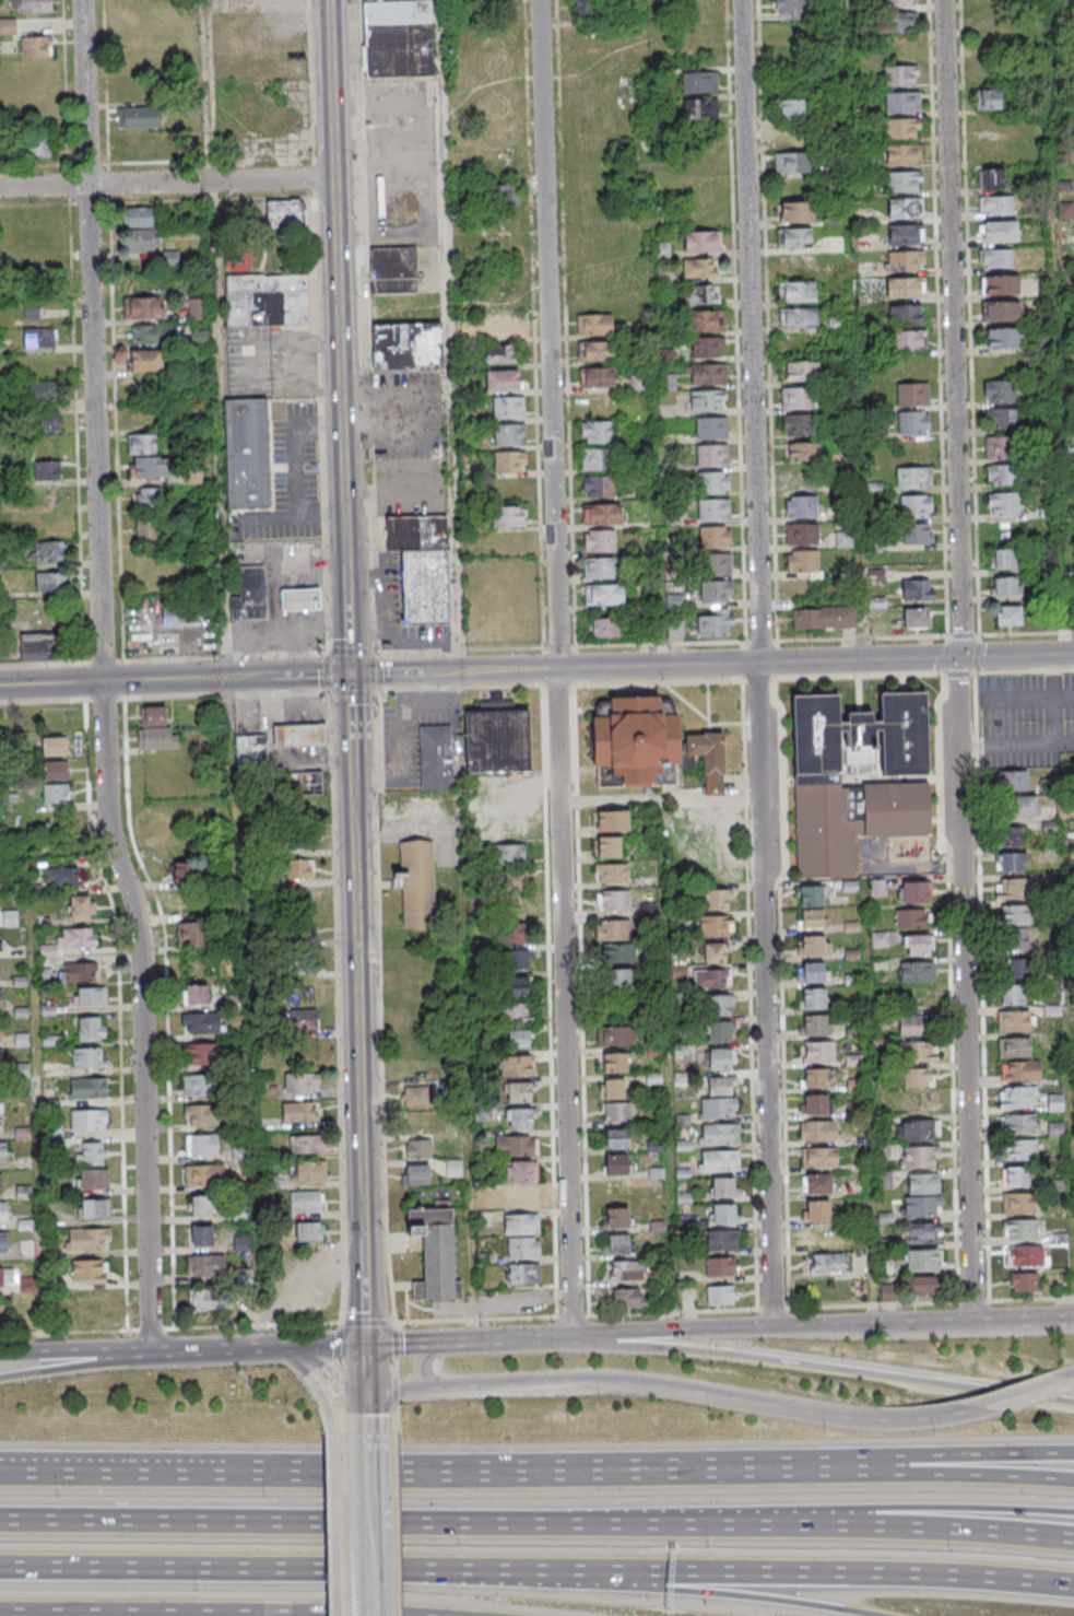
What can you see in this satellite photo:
building: (898, 3)
building: (32, 5)
building: (790, 8)
building: (898, 24)
building: (400, 39)
building: (35, 46)
building: (899, 77)
building: (699, 81)
building: (988, 98)
building: (900, 103)
building: (700, 108)
building: (791, 109)
building: (138, 117)
building: (901, 129)
building: (140, 143)
building: (38, 147)
building: (902, 155)
building: (792, 162)
building: (990, 178)
building: (902, 181)
road: (166, 183)
building: (501, 196)
building: (996, 206)
building: (904, 208)
building: (796, 211)
building: (286, 216)
building: (139, 230)
building: (999, 232)
building: (905, 234)
building: (793, 237)
building: (703, 241)
building: (998, 258)
building: (904, 260)
building: (796, 264)
building: (699, 268)
building: (393, 270)
building: (1000, 284)
building: (905, 286)
building: (798, 291)
building: (700, 294)
building: (267, 300)
building: (32, 306)
building: (142, 306)
building: (197, 308)
building: (1001, 311)
building: (906, 313)
building: (798, 317)
road: (939, 318)
road: (970, 318)
building: (705, 320)
building: (594, 324)
road: (1055, 327)
building: (505, 329)
road: (851, 329)
road: (750, 331)
road: (651, 332)
building: (154, 333)
road: (447, 336)
building: (38, 337)
building: (1003, 337)
building: (199, 338)
road: (215, 339)
building: (906, 339)
building: (408, 346)
building: (707, 347)
building: (595, 350)
building: (500, 355)
building: (146, 360)
building: (800, 371)
building: (708, 374)
building: (595, 376)
building: (503, 380)
building: (42, 391)
building: (1001, 393)
building: (913, 396)
building: (796, 398)
building: (708, 399)
building: (508, 408)
building: (1004, 418)
building: (47, 423)
building: (912, 423)
building: (798, 424)
building: (711, 428)
building: (595, 431)
building: (509, 435)
building: (141, 443)
building: (1001, 447)
building: (250, 449)
building: (803, 452)
building: (711, 455)
building: (595, 458)
building: (510, 461)
building: (150, 467)
building: (47, 471)
road: (298, 471)
building: (1003, 473)
building: (913, 477)
building: (713, 482)
building: (598, 485)
building: (147, 496)
building: (1004, 504)
building: (920, 505)
building: (801, 506)
building: (713, 510)
building: (602, 514)
building: (508, 516)
building: (145, 528)
building: (916, 532)
building: (802, 534)
building: (715, 536)
building: (843, 539)
building: (599, 541)
building: (47, 551)
building: (1002, 558)
building: (804, 561)
building: (717, 564)
building: (422, 565)
building: (599, 567)
road: (961, 577)
building: (50, 582)
building: (1005, 586)
building: (918, 589)
building: (716, 592)
building: (603, 594)
building: (250, 595)
building: (300, 598)
building: (180, 613)
building: (1007, 614)
building: (56, 617)
building: (824, 617)
building: (917, 618)
building: (716, 623)
building: (604, 627)
building: (675, 628)
building: (39, 646)
road: (536, 647)
road: (1016, 655)
traffic signals: (958, 657)
road: (858, 660)
road: (554, 669)
road: (556, 669)
traffic signals: (350, 674)
road: (958, 674)
road: (854, 676)
road: (756, 678)
road: (102, 679)
road: (175, 679)
road: (658, 680)
road: (556, 682)
road: (457, 686)
road: (351, 691)
road: (1051, 698)
road: (351, 716)
building: (52, 719)
building: (155, 729)
building: (300, 735)
building: (497, 738)
road: (1015, 742)
building: (52, 746)
building: (649, 746)
building: (252, 754)
building: (436, 759)
building: (54, 770)
building: (1013, 780)
building: (302, 784)
building: (56, 793)
road: (660, 798)
building: (1020, 805)
building: (861, 809)
building: (613, 821)
building: (1010, 836)
building: (298, 839)
building: (609, 846)
building: (507, 855)
building: (1012, 863)
building: (298, 869)
building: (184, 873)
building: (611, 874)
building: (62, 877)
building: (514, 880)
building: (416, 883)
building: (1016, 889)
building: (913, 891)
building: (810, 895)
building: (713, 899)
building: (613, 900)
building: (80, 906)
building: (514, 906)
building: (910, 918)
building: (811, 920)
building: (715, 925)
building: (1016, 927)
building: (612, 930)
building: (512, 933)
building: (189, 935)
building: (880, 939)
building: (69, 940)
building: (917, 945)
building: (813, 946)
building: (715, 952)
building: (618, 953)
building: (516, 960)
building: (413, 963)
building: (1018, 969)
building: (917, 971)
building: (70, 973)
building: (813, 973)
building: (616, 979)
building: (711, 979)
building: (517, 985)
building: (411, 989)
building: (194, 994)
road: (765, 994)
building: (88, 996)
building: (1011, 996)
building: (813, 998)
building: (1, 999)
building: (719, 1005)
road: (337, 1006)
building: (615, 1007)
road: (379, 1009)
road: (251, 1010)
building: (515, 1011)
building: (305, 1019)
building: (1015, 1021)
building: (200, 1022)
building: (814, 1026)
building: (916, 1026)
building: (91, 1028)
building: (719, 1030)
road: (983, 1030)
building: (615, 1035)
building: (518, 1039)
building: (1014, 1047)
building: (920, 1052)
building: (202, 1053)
building: (817, 1053)
building: (87, 1057)
building: (720, 1057)
building: (615, 1062)
building: (515, 1065)
road: (665, 1065)
road: (1069, 1066)
building: (1020, 1070)
building: (814, 1078)
building: (918, 1078)
building: (198, 1085)
building: (302, 1085)
building: (721, 1085)
building: (86, 1088)
building: (612, 1088)
building: (518, 1091)
building: (414, 1096)
building: (1017, 1098)
road: (40, 1101)
road: (869, 1102)
building: (1055, 1103)
building: (813, 1104)
building: (920, 1104)
building: (718, 1108)
building: (297, 1111)
building: (615, 1112)
building: (200, 1114)
building: (520, 1117)
building: (1, 1119)
building: (88, 1120)
building: (416, 1122)
building: (1019, 1124)
building: (817, 1131)
building: (1054, 1131)
building: (919, 1132)
building: (720, 1134)
building: (616, 1138)
building: (201, 1144)
building: (306, 1144)
road: (467, 1145)
building: (516, 1145)
building: (417, 1148)
building: (883, 1151)
building: (1019, 1151)
building: (3, 1152)
building: (90, 1152)
building: (818, 1157)
building: (920, 1158)
building: (720, 1160)
building: (615, 1164)
building: (453, 1168)
building: (307, 1171)
building: (520, 1171)
building: (203, 1174)
building: (415, 1174)
building: (1015, 1178)
building: (92, 1179)
building: (884, 1180)
building: (0, 1182)
building: (816, 1183)
building: (923, 1184)
building: (723, 1187)
building: (519, 1197)
building: (306, 1201)
building: (1018, 1204)
building: (201, 1205)
building: (922, 1207)
building: (92, 1208)
building: (816, 1210)
building: (2, 1211)
building: (724, 1214)
building: (617, 1217)
building: (521, 1223)
building: (1019, 1230)
building: (308, 1231)
building: (923, 1233)
building: (201, 1236)
building: (821, 1238)
building: (87, 1239)
building: (725, 1240)
road: (972, 1240)
building: (2, 1242)
building: (616, 1244)
building: (522, 1248)
building: (433, 1252)
building: (1025, 1256)
building: (921, 1261)
building: (826, 1263)
building: (205, 1265)
building: (886, 1266)
building: (720, 1267)
building: (625, 1269)
building: (87, 1270)
building: (522, 1274)
building: (5, 1276)
building: (1023, 1283)
building: (918, 1286)
building: (887, 1295)
building: (720, 1296)
building: (628, 1297)
building: (206, 1299)
road: (366, 1322)
road: (1025, 1322)
road: (775, 1326)
road: (470, 1342)
traffic signals: (367, 1346)
road: (259, 1347)
road: (76, 1350)
road: (335, 1356)
road: (393, 1365)
road: (423, 1365)
road: (76, 1367)
road: (824, 1368)
road: (337, 1377)
road: (317, 1385)
road: (676, 1389)
road: (1028, 1392)
road: (340, 1410)
road: (392, 1418)
road: (948, 1454)
road: (412, 1469)
road: (948, 1474)
road: (936, 1507)
road: (335, 1524)
road: (343, 1524)
road: (370, 1524)
road: (394, 1524)
road: (536, 1524)
road: (265, 1568)
road: (803, 1570)
road: (709, 1591)

